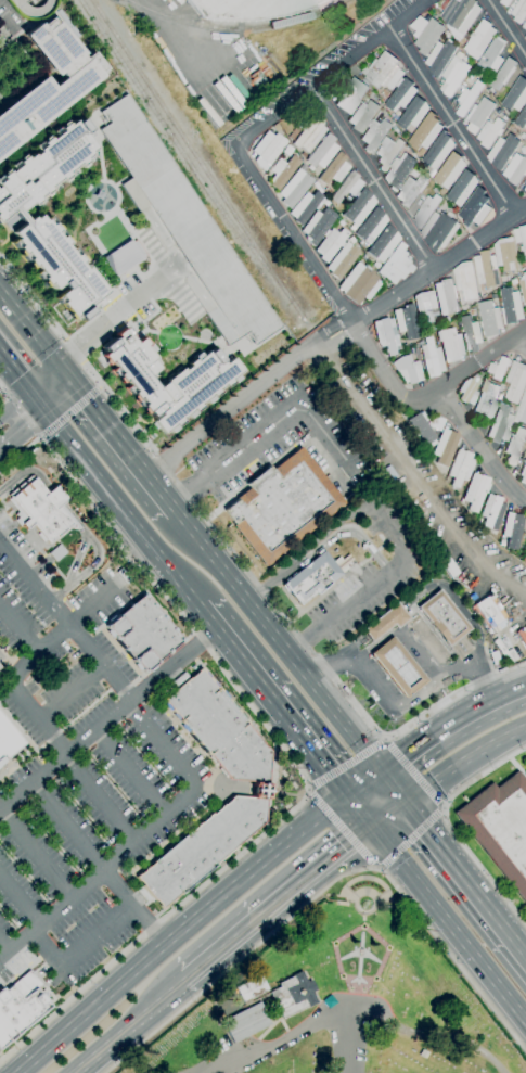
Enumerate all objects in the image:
building: (505, 2)
road: (0, 3)
building: (31, 9)
parking lot: (31, 9)
building: (247, 9)
building: (519, 11)
building: (461, 14)
road: (508, 25)
building: (525, 25)
railway: (233, 26)
road: (175, 31)
building: (426, 33)
building: (458, 37)
building: (525, 37)
building: (479, 39)
building: (460, 54)
building: (489, 55)
building: (440, 56)
building: (497, 66)
building: (384, 72)
building: (503, 74)
building: (453, 75)
building: (47, 82)
building: (398, 92)
building: (369, 93)
building: (385, 93)
building: (515, 94)
building: (351, 95)
building: (469, 98)
building: (480, 112)
building: (413, 113)
building: (362, 115)
building: (522, 118)
road: (452, 122)
building: (422, 129)
building: (308, 132)
building: (490, 132)
building: (406, 133)
building: (374, 135)
road: (246, 137)
building: (267, 149)
railway: (180, 150)
building: (286, 150)
building: (523, 150)
railway: (191, 151)
building: (438, 151)
building: (503, 151)
building: (321, 152)
building: (387, 152)
building: (419, 154)
building: (333, 169)
building: (515, 169)
building: (450, 170)
building: (282, 171)
building: (398, 171)
road: (372, 176)
building: (347, 187)
building: (463, 187)
building: (294, 188)
building: (410, 190)
building: (436, 190)
building: (326, 191)
building: (444, 192)
building: (305, 207)
building: (474, 207)
building: (358, 208)
building: (426, 209)
building: (454, 210)
building: (181, 219)
building: (50, 221)
building: (370, 225)
building: (317, 226)
building: (465, 226)
building: (439, 230)
building: (521, 237)
building: (350, 240)
building: (330, 244)
building: (383, 244)
building: (363, 246)
building: (506, 254)
building: (120, 257)
building: (342, 260)
building: (395, 265)
building: (375, 266)
building: (485, 268)
building: (525, 276)
building: (504, 278)
building: (465, 280)
building: (358, 284)
building: (446, 296)
building: (524, 296)
building: (462, 306)
building: (511, 306)
road: (125, 308)
building: (425, 308)
building: (473, 311)
building: (490, 319)
building: (440, 320)
building: (405, 322)
road: (31, 331)
road: (330, 334)
building: (471, 334)
building: (385, 335)
road: (523, 338)
building: (420, 343)
building: (449, 345)
road: (69, 355)
building: (413, 357)
building: (431, 358)
road: (29, 360)
building: (499, 368)
building: (409, 371)
traffic signals: (64, 372)
road: (16, 375)
building: (167, 379)
building: (515, 381)
road: (49, 385)
building: (466, 389)
road: (3, 392)
road: (422, 397)
traffic signals: (34, 398)
building: (486, 401)
road: (15, 405)
building: (522, 409)
road: (69, 412)
road: (23, 417)
building: (500, 424)
building: (421, 429)
road: (24, 430)
road: (260, 434)
road: (118, 440)
building: (514, 446)
building: (444, 447)
road: (479, 448)
road: (151, 450)
road: (20, 455)
building: (460, 468)
road: (25, 473)
building: (523, 473)
building: (475, 491)
road: (116, 501)
building: (282, 506)
road: (10, 509)
building: (40, 509)
building: (490, 510)
building: (512, 529)
flagpole: (70, 537)
road: (195, 537)
road: (320, 546)
road: (99, 557)
road: (44, 558)
road: (76, 561)
building: (311, 578)
road: (383, 579)
road: (57, 595)
road: (65, 604)
building: (487, 611)
building: (442, 617)
road: (65, 622)
building: (382, 622)
road: (18, 630)
building: (145, 635)
road: (295, 648)
road: (421, 655)
road: (174, 665)
road: (298, 666)
building: (395, 667)
road: (72, 697)
road: (272, 701)
road: (401, 703)
road: (25, 708)
road: (450, 721)
building: (220, 730)
road: (400, 733)
building: (9, 740)
road: (387, 740)
road: (65, 756)
road: (463, 758)
road: (349, 763)
traffic signals: (381, 767)
road: (133, 770)
road: (302, 772)
road: (413, 772)
road: (364, 780)
road: (394, 783)
road: (309, 787)
road: (307, 793)
traffic signals: (349, 794)
parking lot: (82, 795)
traffic signals: (407, 801)
road: (336, 803)
road: (444, 806)
road: (360, 809)
road: (442, 812)
road: (389, 813)
traffic signals: (372, 825)
road: (449, 829)
building: (500, 829)
road: (341, 830)
road: (141, 838)
road: (410, 841)
building: (203, 848)
road: (38, 855)
road: (100, 860)
road: (374, 867)
road: (379, 869)
road: (465, 877)
road: (371, 878)
road: (328, 886)
road: (337, 895)
road: (21, 900)
road: (275, 904)
road: (361, 911)
road: (449, 922)
road: (167, 938)
road: (4, 945)
road: (82, 950)
road: (359, 951)
road: (360, 951)
road: (381, 963)
road: (352, 965)
road: (367, 967)
building: (249, 988)
flagpole: (351, 988)
flagpole: (364, 988)
building: (294, 995)
road: (355, 997)
park: (339, 1001)
building: (22, 1006)
building: (245, 1021)
road: (128, 1029)
road: (422, 1035)
road: (278, 1038)
road: (345, 1038)
building: (423, 1053)

